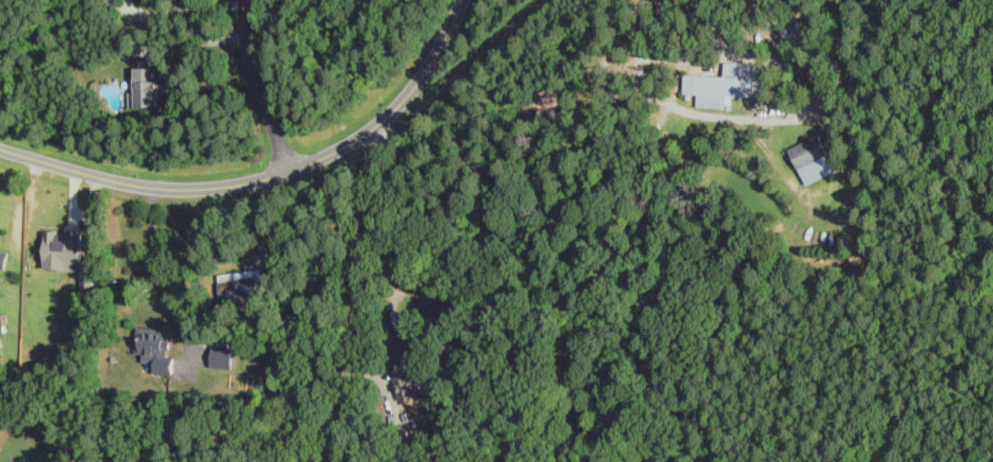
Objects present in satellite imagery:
road: (183, 11)
building: (792, 29)
building: (729, 84)
building: (146, 87)
road: (256, 89)
road: (742, 117)
building: (813, 160)
road: (270, 178)
road: (276, 227)
building: (62, 249)
building: (3, 258)
road: (160, 276)
building: (239, 288)
road: (360, 298)
building: (157, 348)
building: (410, 349)
building: (223, 357)
building: (406, 387)

